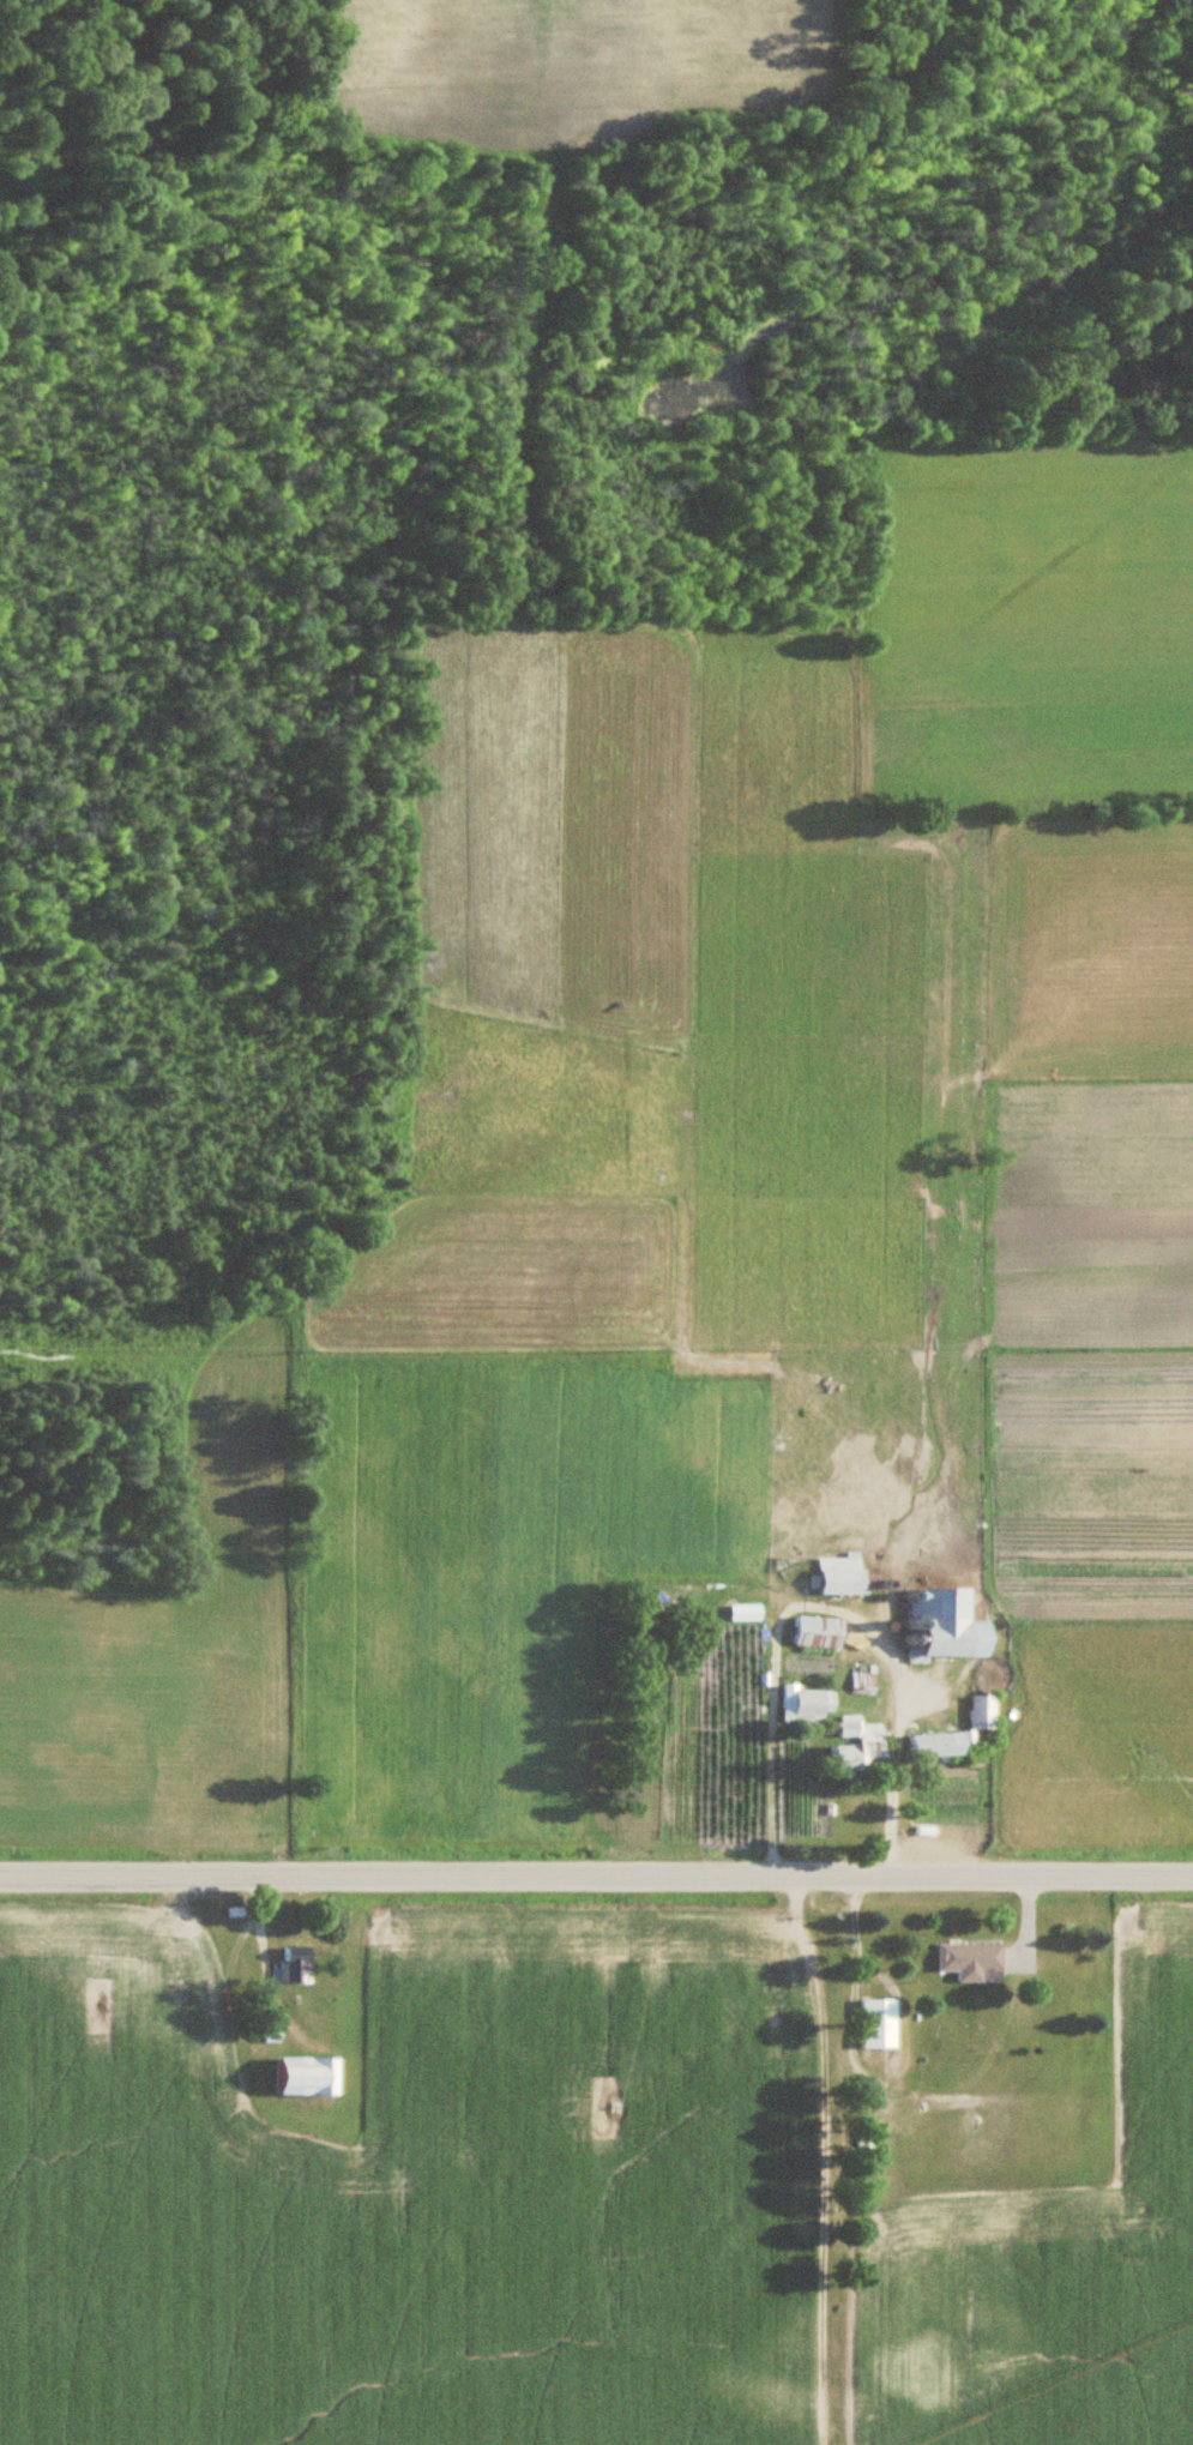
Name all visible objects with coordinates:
building: (836, 1577)
road: (819, 1606)
building: (934, 1626)
building: (811, 1632)
building: (808, 1706)
building: (977, 1712)
building: (927, 1746)
road: (596, 1872)
building: (966, 1961)
building: (289, 1967)
building: (872, 2023)
building: (295, 2078)

